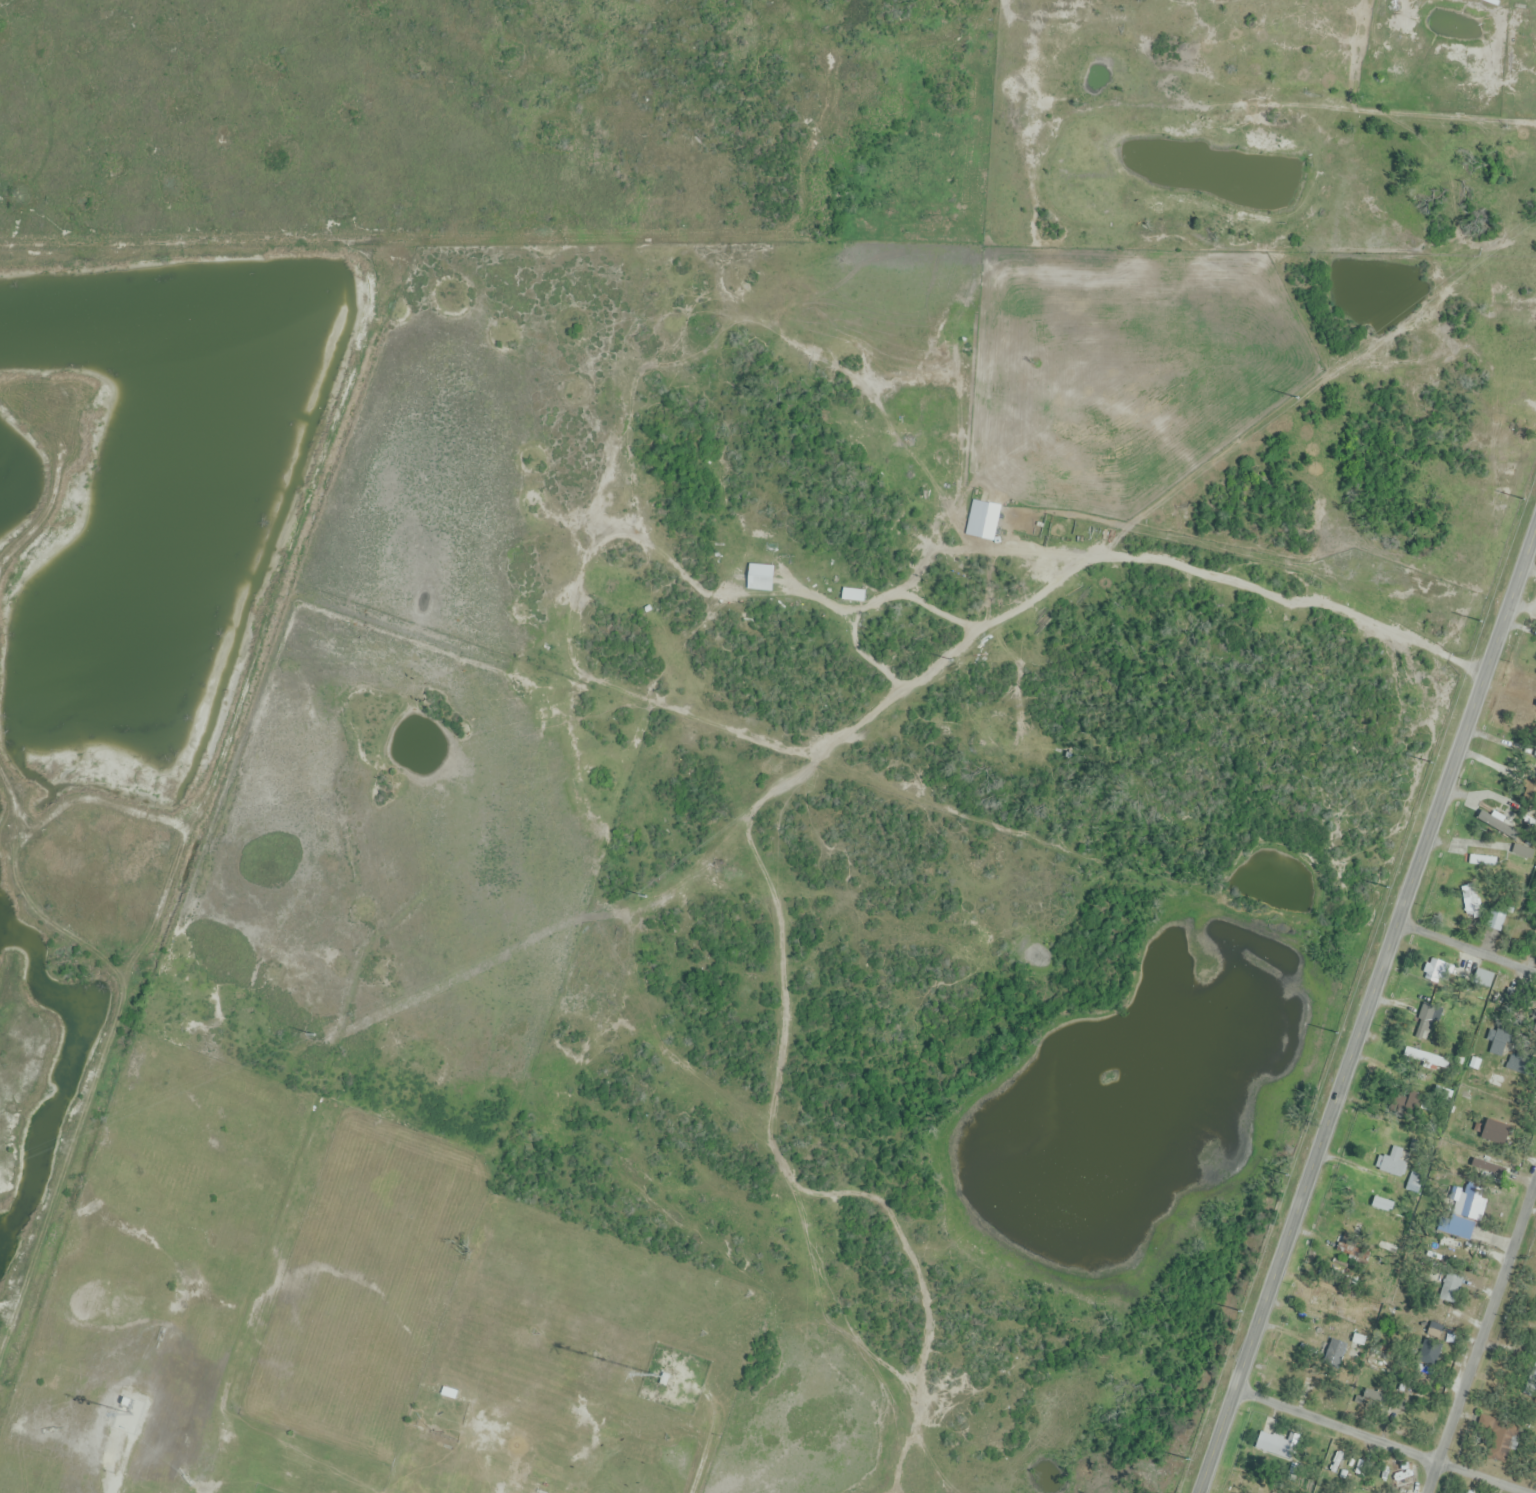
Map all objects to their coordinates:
building: (1491, 2)
road: (1069, 566)
building: (853, 596)
building: (1523, 722)
building: (1482, 862)
building: (1495, 921)
road: (1470, 944)
building: (1482, 979)
road: (1371, 1015)
building: (1427, 1023)
building: (1498, 1043)
building: (1395, 1162)
building: (1460, 1227)
building: (1451, 1288)
road: (1480, 1340)
building: (1334, 1352)
building: (1430, 1353)
building: (122, 1409)
building: (1497, 1436)
building: (1266, 1441)
road: (1381, 1442)
building: (418, 1447)

